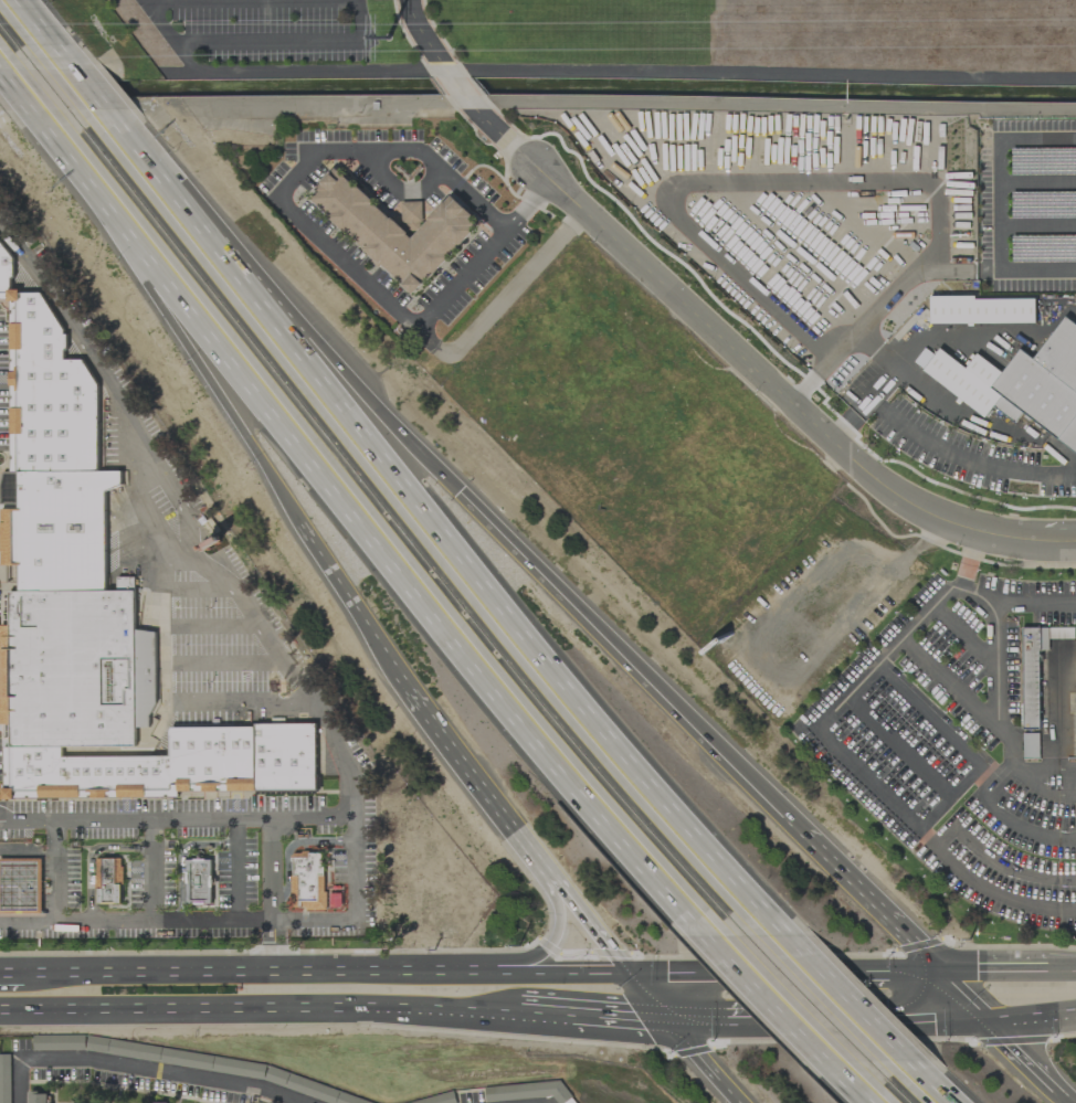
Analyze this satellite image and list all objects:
road: (359, 9)
road: (424, 35)
power tower: (390, 42)
road: (592, 68)
road: (461, 88)
road: (506, 137)
road: (72, 158)
building: (411, 210)
building: (393, 231)
road: (316, 235)
road: (911, 280)
building: (982, 310)
road: (911, 370)
building: (1019, 383)
road: (222, 388)
building: (46, 390)
road: (785, 392)
road: (368, 457)
road: (974, 462)
building: (8, 488)
road: (149, 517)
road: (189, 521)
building: (57, 530)
road: (511, 552)
road: (963, 574)
road: (407, 585)
road: (173, 588)
road: (347, 600)
road: (210, 624)
road: (964, 635)
road: (996, 647)
road: (888, 649)
road: (224, 662)
building: (1035, 669)
building: (76, 670)
road: (950, 683)
road: (180, 706)
road: (900, 743)
road: (960, 743)
building: (171, 767)
road: (1051, 770)
road: (477, 778)
road: (1046, 793)
road: (1003, 815)
road: (177, 819)
road: (927, 839)
road: (235, 870)
road: (54, 871)
road: (152, 871)
building: (108, 882)
building: (198, 883)
building: (308, 887)
building: (20, 889)
road: (859, 892)
road: (274, 895)
road: (229, 922)
road: (591, 929)
road: (551, 935)
road: (926, 958)
road: (910, 967)
traffic signals: (935, 967)
road: (991, 968)
road: (1062, 969)
road: (756, 971)
road: (319, 972)
traffic signals: (625, 973)
road: (7, 974)
road: (827, 986)
road: (648, 996)
road: (966, 996)
road: (768, 997)
road: (259, 1007)
road: (545, 1012)
road: (588, 1015)
road: (637, 1017)
traffic signals: (672, 1019)
road: (1036, 1019)
road: (697, 1020)
road: (861, 1022)
traffic signals: (996, 1025)
road: (1024, 1051)
building: (148, 1054)
road: (707, 1060)
road: (140, 1068)
building: (4, 1079)
road: (927, 1086)
road: (1064, 1090)
road: (862, 1093)
building: (38, 1096)
building: (75, 1102)
building: (152, 1102)

